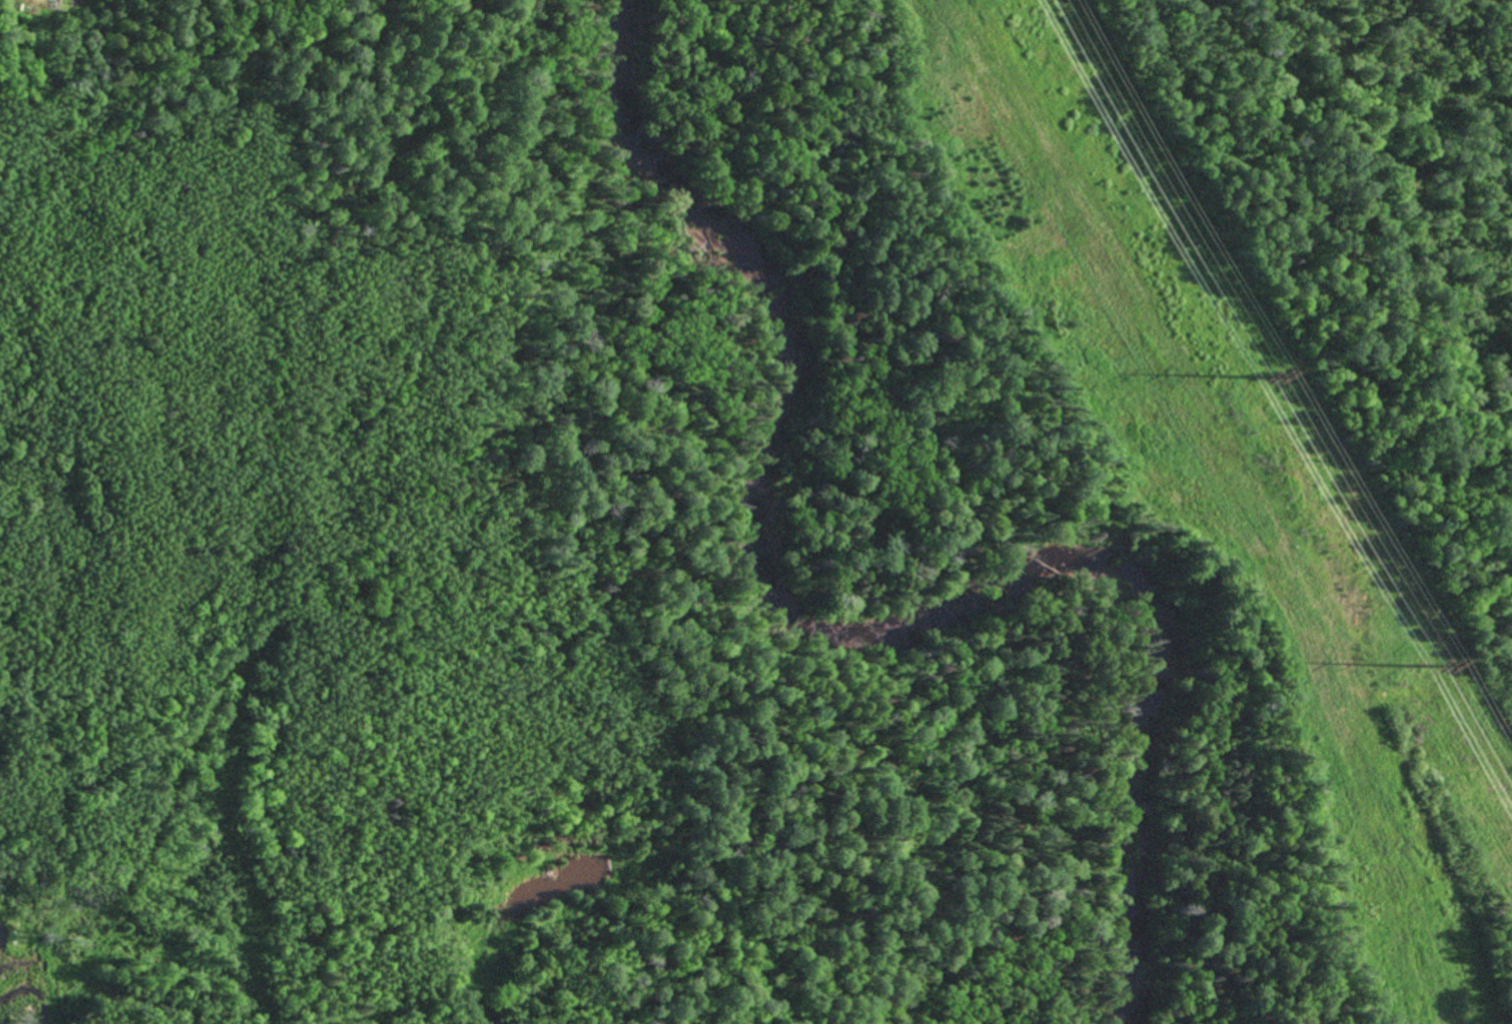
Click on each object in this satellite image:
power tower: (1253, 378)
power tower: (1422, 666)

